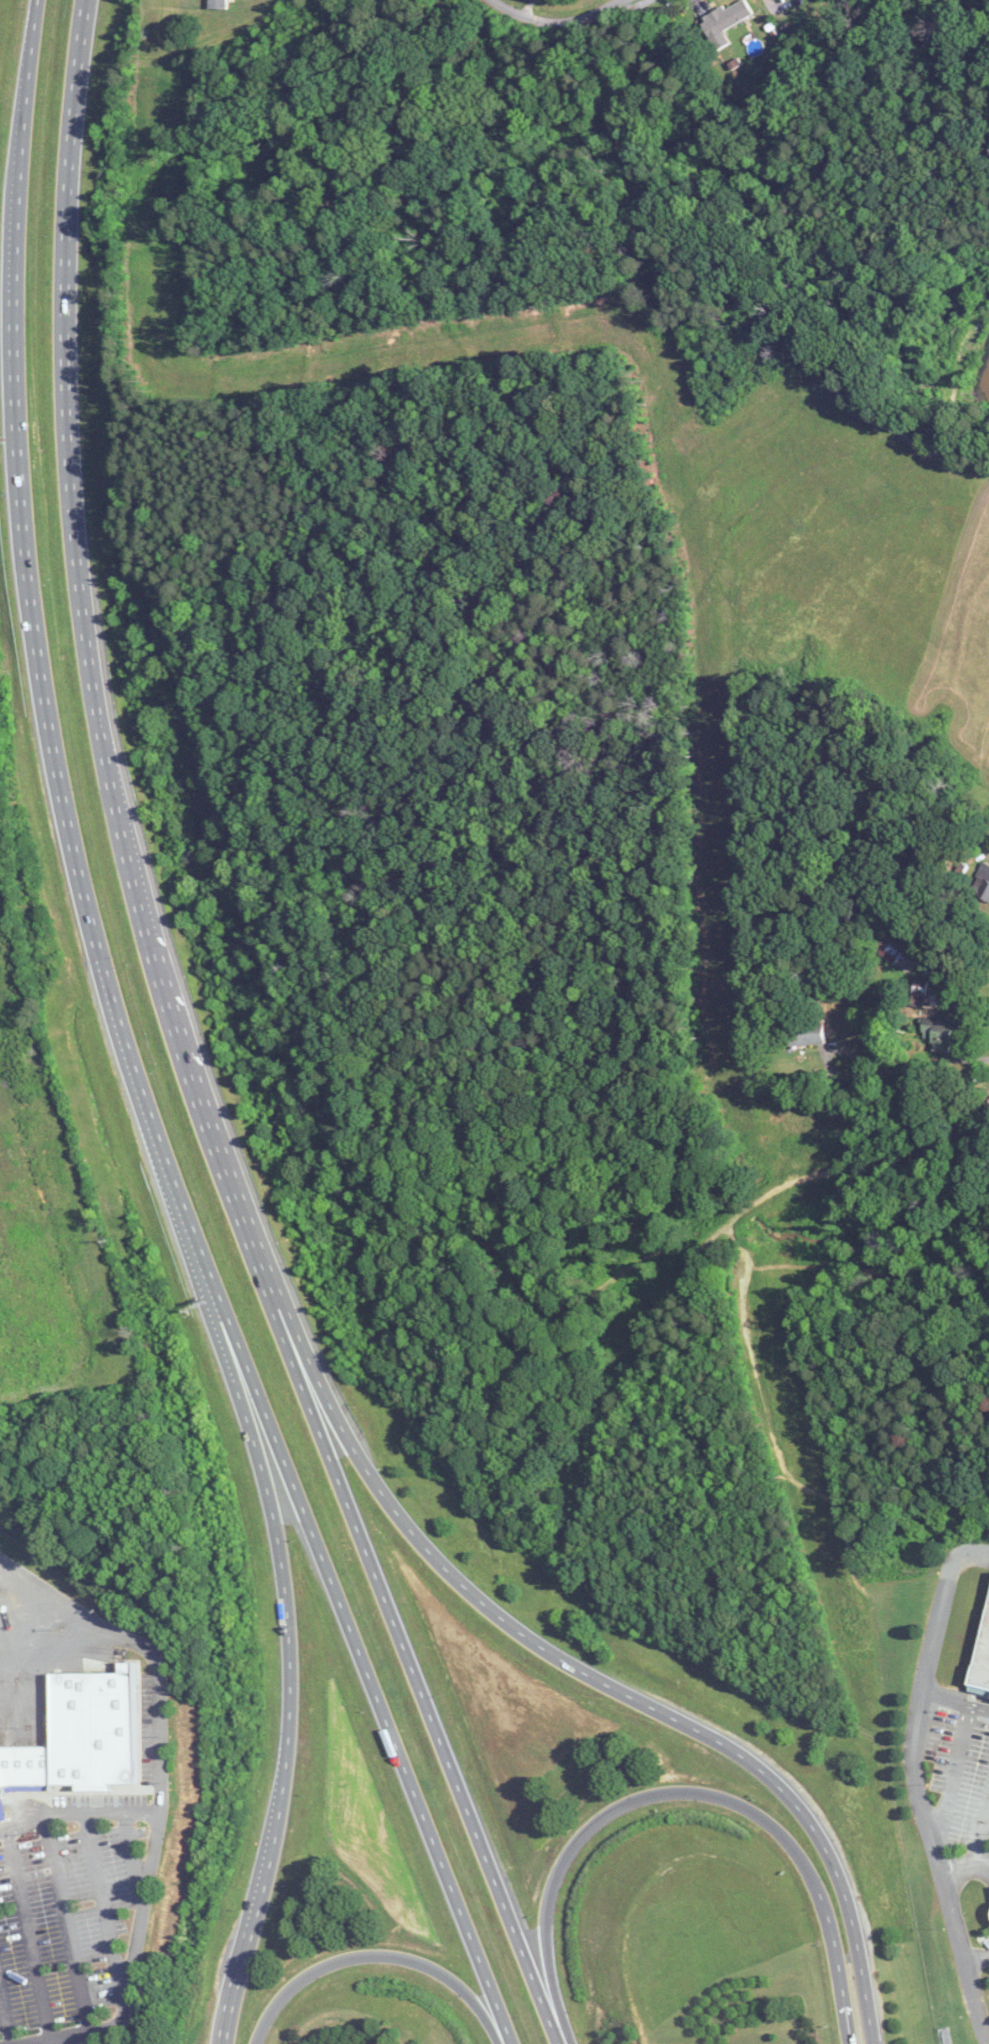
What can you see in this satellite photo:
building: (217, 4)
building: (725, 23)
road: (555, 24)
building: (981, 883)
building: (892, 955)
road: (952, 999)
building: (941, 1033)
building: (806, 1034)
road: (188, 1048)
road: (131, 1050)
road: (825, 1053)
road: (929, 1060)
road: (699, 1243)
road: (289, 1598)
road: (70, 1609)
road: (940, 1609)
road: (23, 1619)
road: (527, 1631)
building: (983, 1667)
road: (43, 1718)
road: (159, 1724)
building: (92, 1733)
building: (25, 1770)
road: (952, 1778)
building: (0, 1786)
road: (683, 1793)
road: (103, 1809)
road: (23, 1821)
road: (981, 1833)
road: (929, 1836)
road: (131, 1861)
road: (964, 1868)
road: (104, 1906)
road: (68, 1923)
road: (29, 1935)
road: (135, 1956)
road: (378, 1958)
road: (976, 1958)
road: (5, 2015)
road: (844, 2019)
road: (51, 2043)

